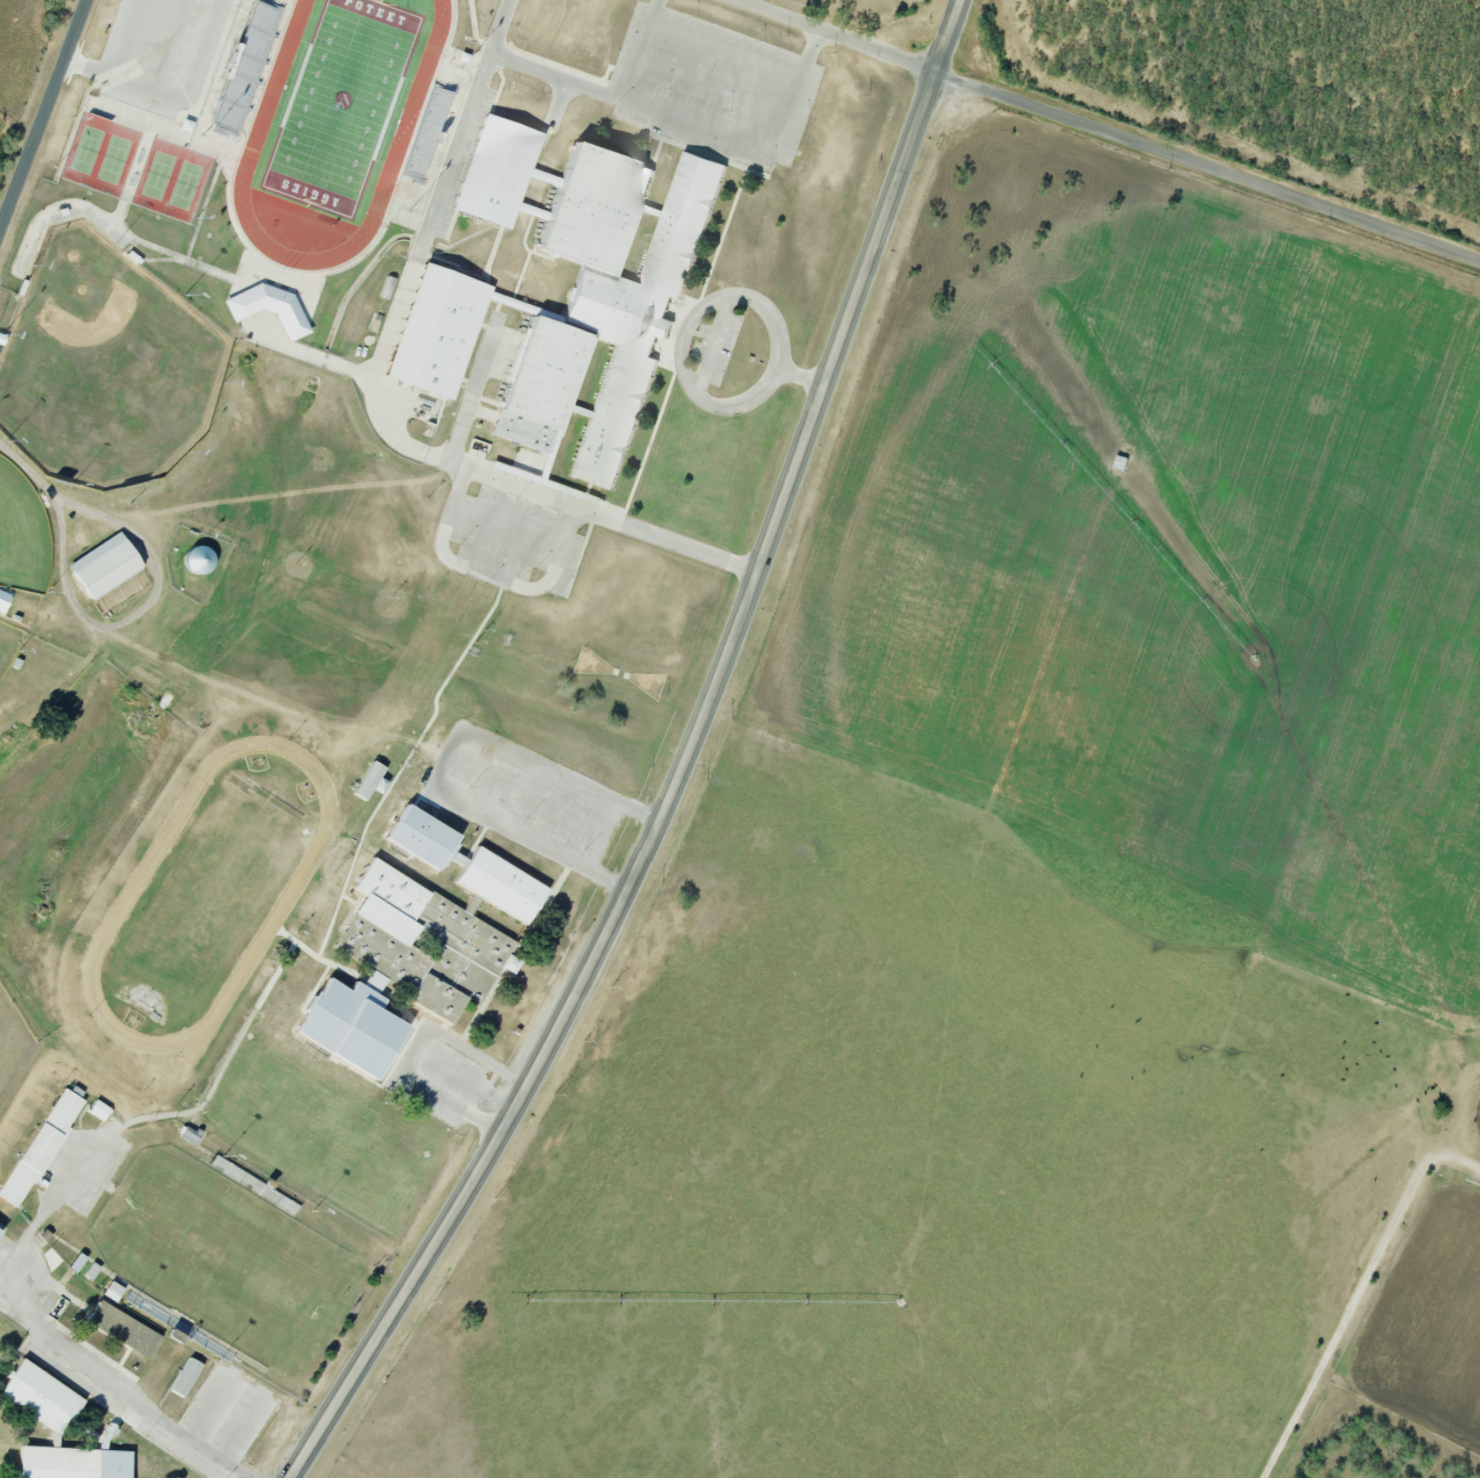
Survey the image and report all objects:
road: (727, 44)
road: (640, 49)
road: (121, 62)
building: (245, 70)
building: (341, 102)
road: (688, 122)
road: (44, 123)
road: (1102, 124)
park: (136, 163)
building: (492, 167)
building: (535, 212)
building: (265, 302)
building: (603, 305)
road: (693, 315)
building: (439, 334)
road: (715, 347)
road: (473, 393)
road: (379, 402)
road: (27, 468)
building: (201, 560)
building: (108, 565)
road: (488, 578)
building: (4, 600)
road: (137, 615)
road: (448, 756)
road: (685, 766)
building: (372, 781)
road: (519, 793)
road: (526, 795)
building: (418, 831)
road: (603, 836)
building: (461, 859)
building: (470, 928)
building: (347, 1019)
building: (98, 1106)
building: (191, 1135)
building: (38, 1141)
road: (47, 1205)
building: (0, 1228)
park: (228, 1254)
building: (78, 1262)
building: (93, 1271)
building: (114, 1291)
road: (1357, 1293)
building: (146, 1307)
building: (122, 1324)
building: (184, 1372)
road: (120, 1393)
building: (57, 1430)

